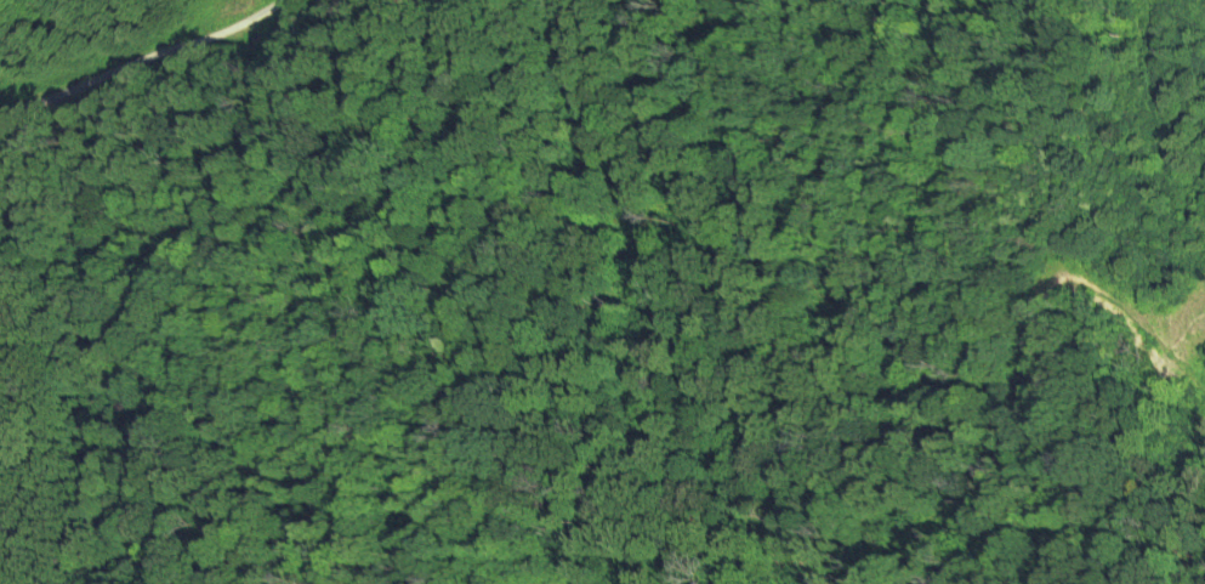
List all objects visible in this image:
road: (78, 25)

